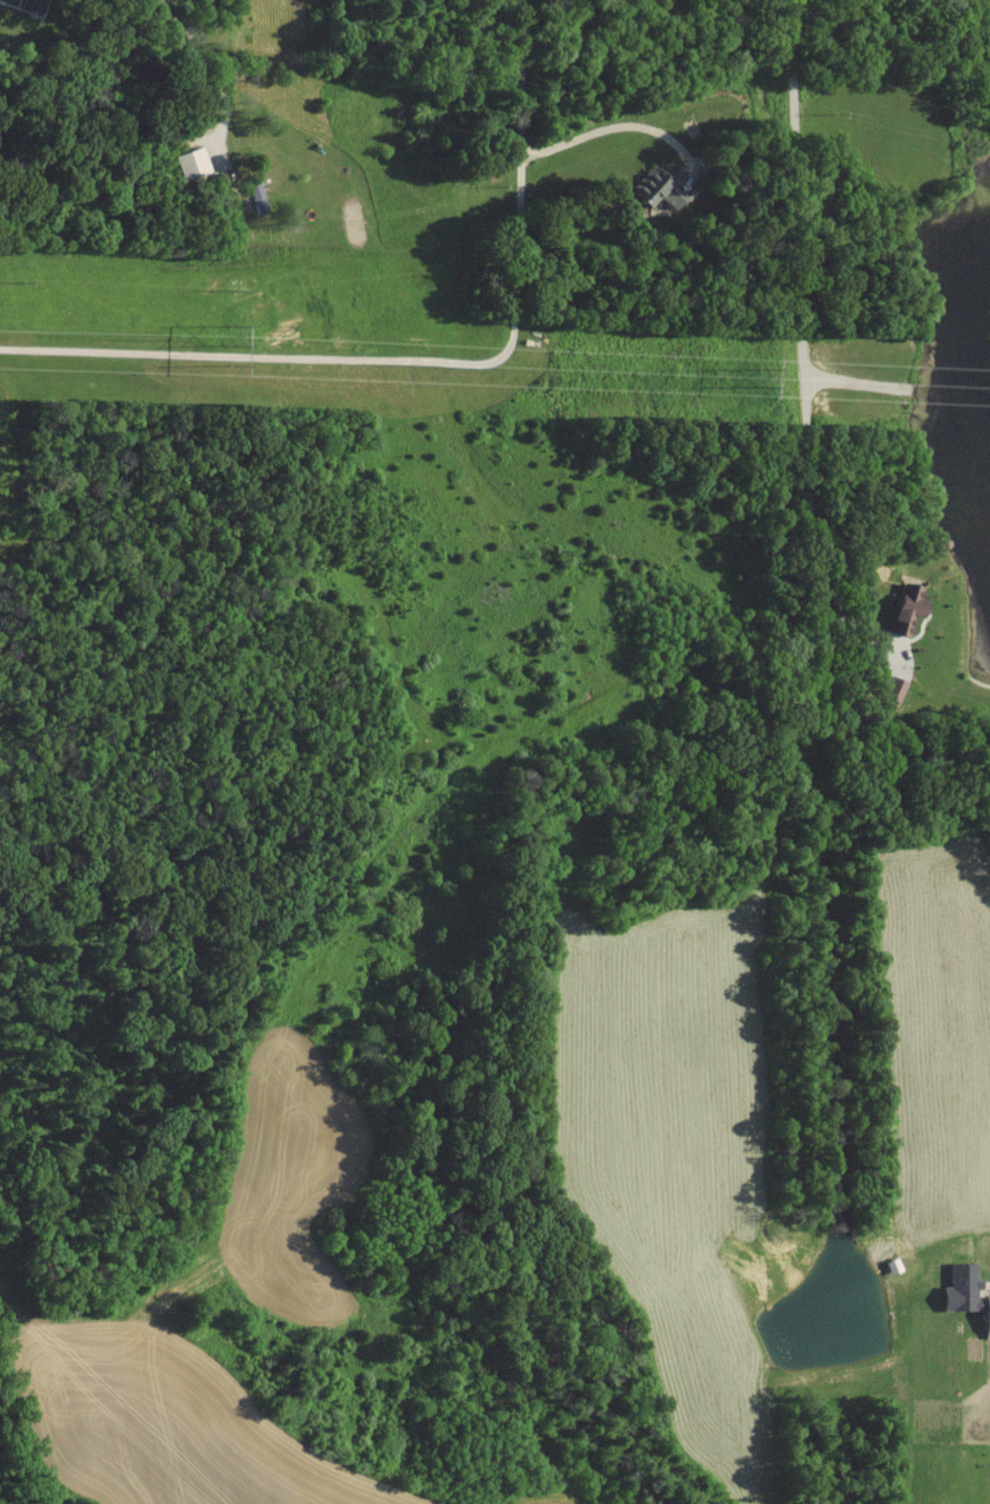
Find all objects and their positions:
road: (219, 80)
road: (622, 125)
building: (196, 163)
building: (661, 188)
power tower: (232, 344)
road: (804, 350)
road: (430, 360)
power tower: (760, 375)
building: (899, 609)
building: (892, 689)
building: (956, 1288)
building: (984, 1316)

